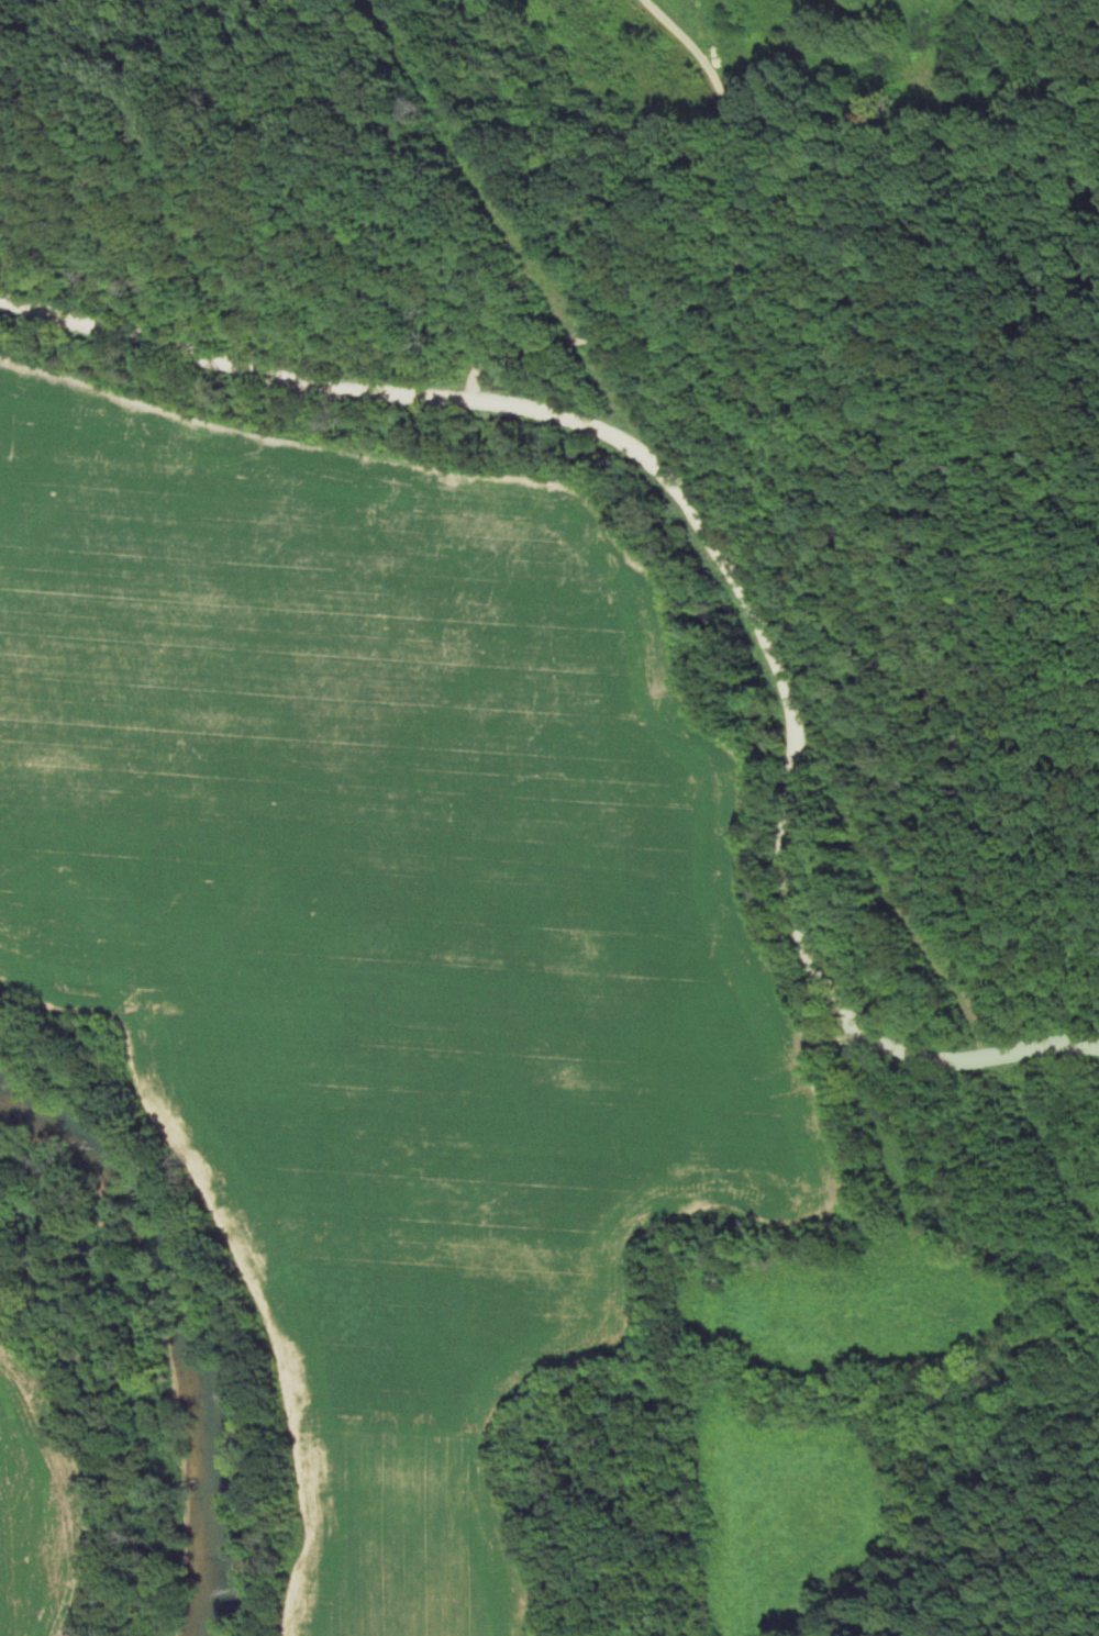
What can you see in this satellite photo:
road: (734, 277)
road: (711, 546)
river: (182, 1332)

